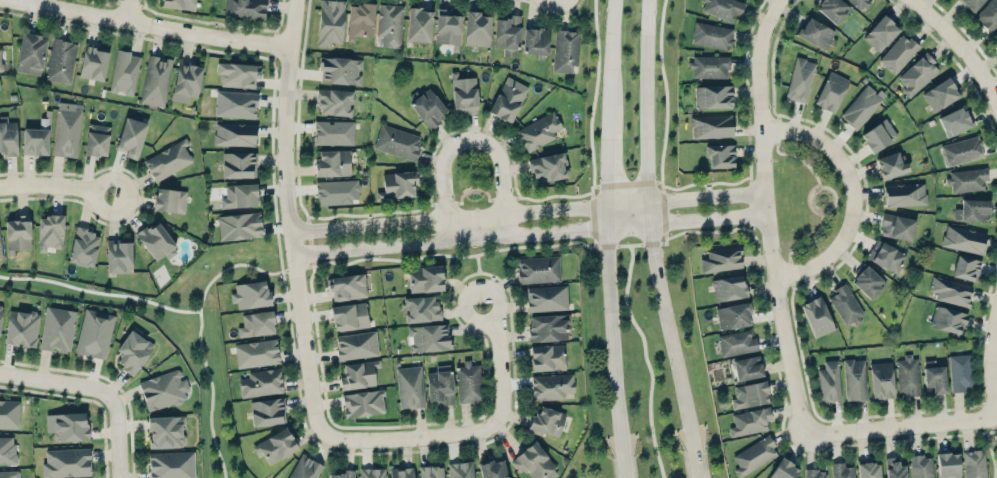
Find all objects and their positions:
building: (859, 3)
building: (178, 4)
building: (971, 4)
building: (245, 8)
building: (723, 8)
road: (126, 9)
building: (833, 9)
building: (988, 15)
building: (359, 20)
building: (330, 22)
road: (151, 23)
building: (418, 24)
building: (389, 25)
building: (447, 27)
building: (477, 29)
building: (816, 33)
building: (881, 33)
building: (507, 34)
building: (712, 34)
building: (995, 36)
building: (535, 40)
road: (959, 48)
building: (565, 50)
building: (30, 53)
building: (898, 53)
building: (0, 60)
building: (61, 60)
road: (610, 60)
building: (93, 62)
building: (709, 66)
building: (340, 70)
building: (124, 72)
building: (237, 74)
building: (918, 74)
building: (800, 79)
building: (156, 80)
building: (186, 81)
building: (831, 91)
building: (463, 93)
building: (940, 94)
building: (713, 96)
building: (508, 99)
building: (335, 102)
building: (235, 104)
building: (862, 106)
building: (428, 108)
building: (955, 121)
road: (469, 125)
building: (711, 126)
building: (67, 129)
building: (538, 131)
building: (333, 132)
building: (234, 134)
building: (878, 135)
building: (8, 136)
building: (131, 137)
building: (36, 139)
building: (96, 139)
road: (467, 140)
building: (397, 142)
building: (961, 150)
building: (720, 155)
road: (794, 156)
building: (168, 160)
road: (606, 161)
building: (332, 162)
building: (238, 164)
building: (892, 164)
building: (548, 167)
building: (967, 180)
road: (643, 182)
road: (710, 183)
road: (56, 184)
building: (399, 184)
road: (469, 189)
road: (815, 190)
building: (337, 191)
road: (852, 193)
building: (904, 194)
building: (240, 195)
road: (535, 199)
building: (169, 200)
road: (526, 209)
building: (972, 210)
road: (354, 215)
road: (606, 216)
road: (766, 216)
road: (289, 218)
building: (239, 226)
road: (651, 226)
building: (897, 226)
building: (18, 232)
building: (50, 232)
road: (714, 232)
road: (529, 235)
building: (963, 239)
building: (156, 241)
road: (806, 245)
building: (83, 247)
building: (0, 255)
road: (444, 255)
building: (119, 256)
building: (886, 256)
building: (722, 259)
building: (966, 268)
building: (538, 269)
building: (425, 278)
road: (480, 281)
building: (868, 282)
building: (346, 286)
building: (728, 288)
road: (100, 291)
building: (950, 291)
building: (250, 294)
building: (546, 298)
building: (846, 305)
building: (420, 308)
building: (0, 311)
building: (733, 315)
building: (349, 316)
building: (817, 316)
building: (947, 319)
building: (256, 324)
building: (548, 327)
building: (21, 328)
building: (57, 329)
building: (94, 333)
road: (200, 333)
building: (429, 337)
road: (614, 343)
building: (737, 343)
building: (356, 345)
building: (133, 350)
building: (256, 353)
building: (547, 357)
road: (646, 360)
building: (747, 367)
road: (992, 368)
building: (960, 371)
building: (358, 374)
building: (908, 375)
building: (934, 377)
road: (107, 378)
building: (854, 379)
building: (881, 380)
road: (58, 381)
building: (829, 381)
building: (468, 382)
building: (261, 383)
building: (440, 385)
building: (409, 386)
building: (551, 386)
building: (163, 389)
building: (749, 394)
building: (363, 403)
building: (267, 411)
building: (9, 413)
building: (547, 421)
building: (750, 421)
road: (901, 425)
building: (67, 426)
building: (166, 431)
road: (471, 433)
road: (119, 438)
road: (990, 448)
building: (7, 450)
building: (754, 455)
building: (533, 461)
building: (66, 462)
building: (171, 464)
road: (695, 464)
building: (974, 464)
building: (948, 465)
building: (921, 466)
building: (305, 468)
road: (626, 468)
building: (894, 468)
building: (461, 469)
building: (493, 469)
building: (783, 470)
building: (841, 470)
building: (868, 470)
building: (432, 471)
building: (402, 472)
building: (371, 473)
building: (815, 473)
building: (8, 474)
building: (340, 474)

